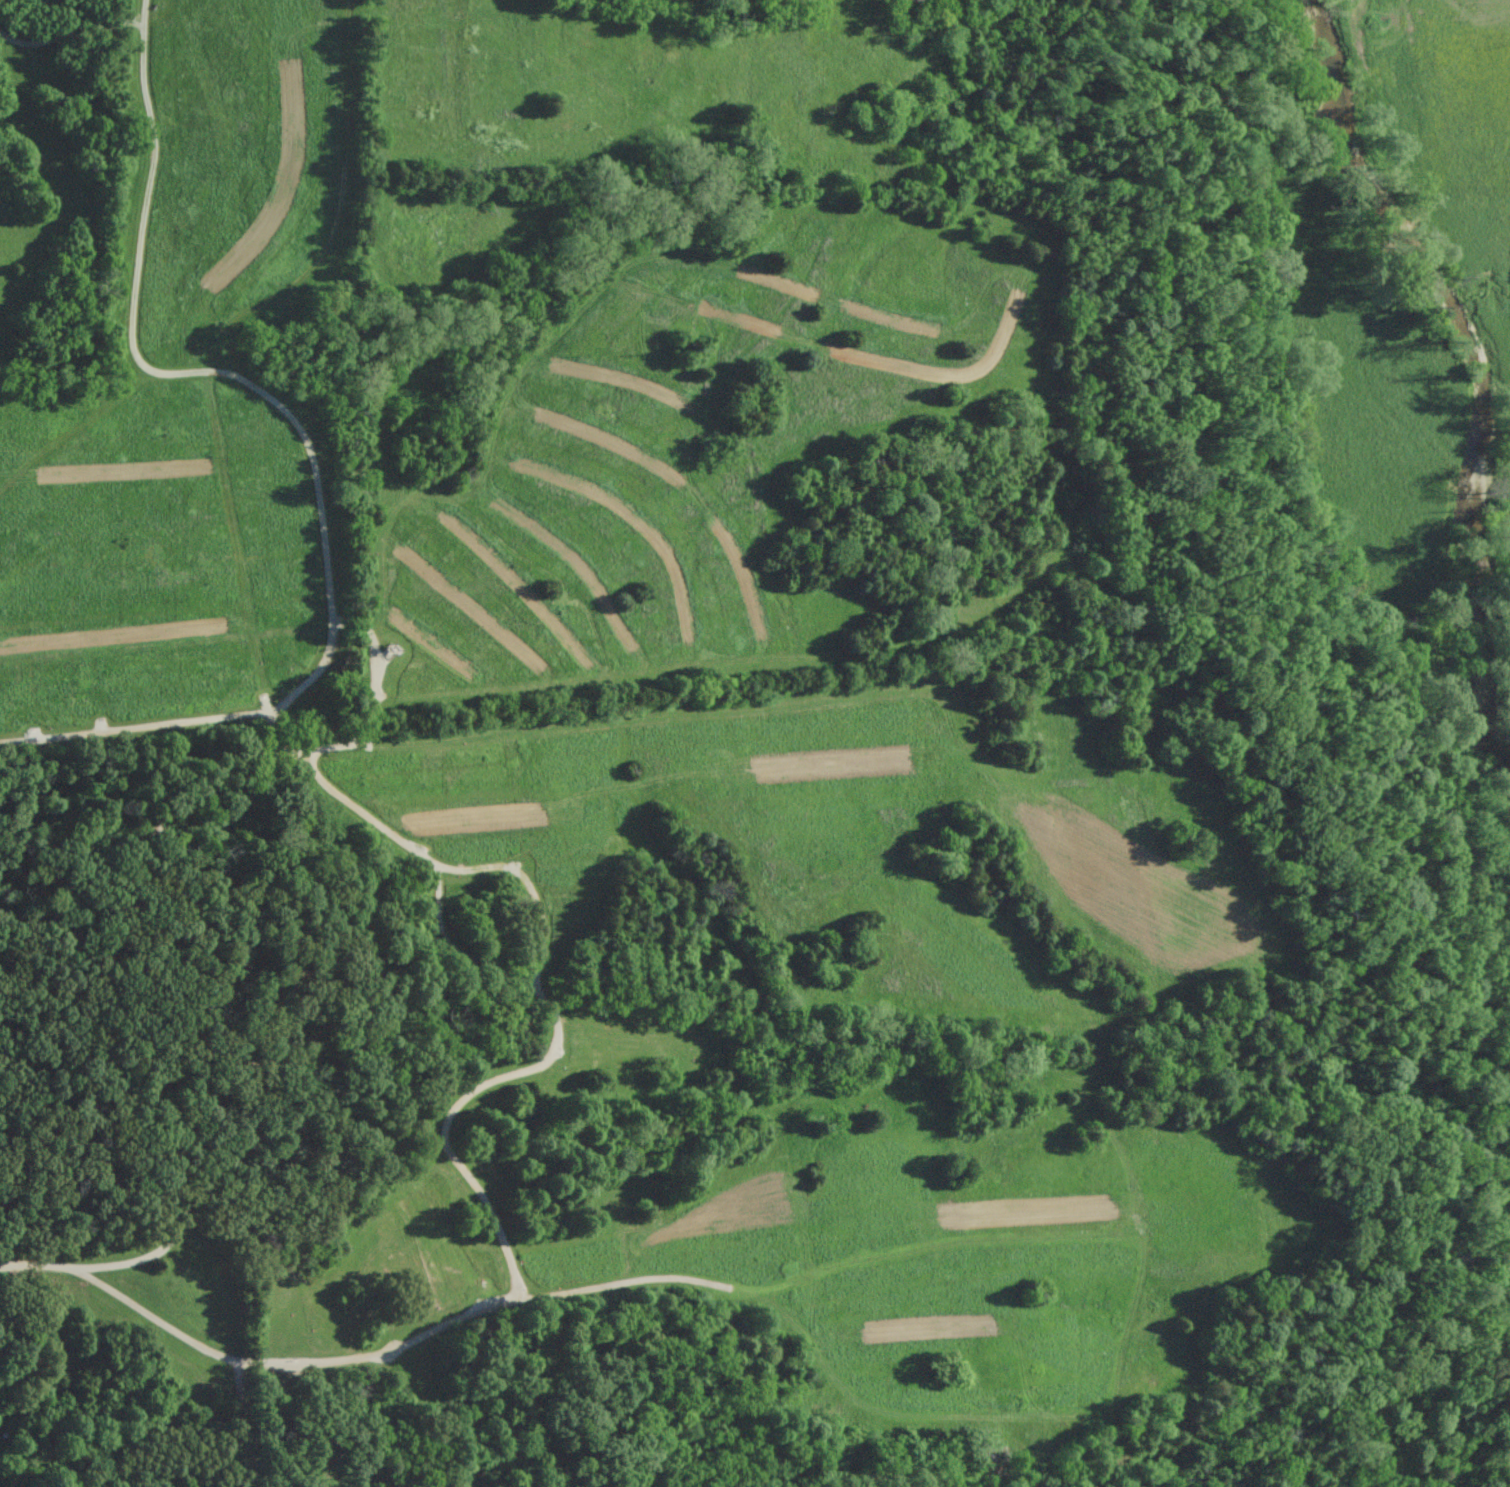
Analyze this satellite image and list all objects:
road: (1507, 615)

